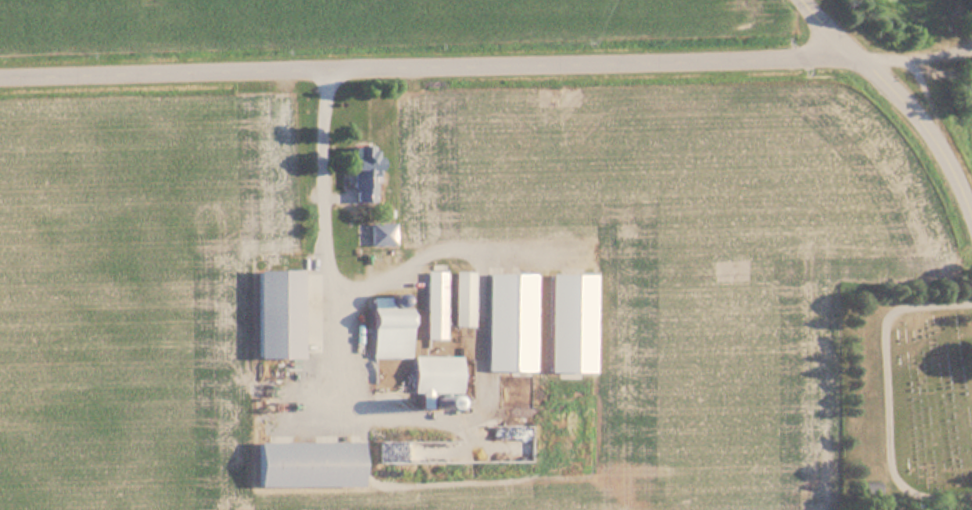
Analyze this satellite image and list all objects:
road: (420, 66)
road: (901, 100)
building: (360, 172)
building: (380, 233)
building: (462, 299)
building: (434, 305)
building: (275, 313)
building: (508, 322)
building: (386, 335)
building: (435, 374)
building: (251, 383)
park: (908, 396)
building: (484, 434)
building: (871, 489)

